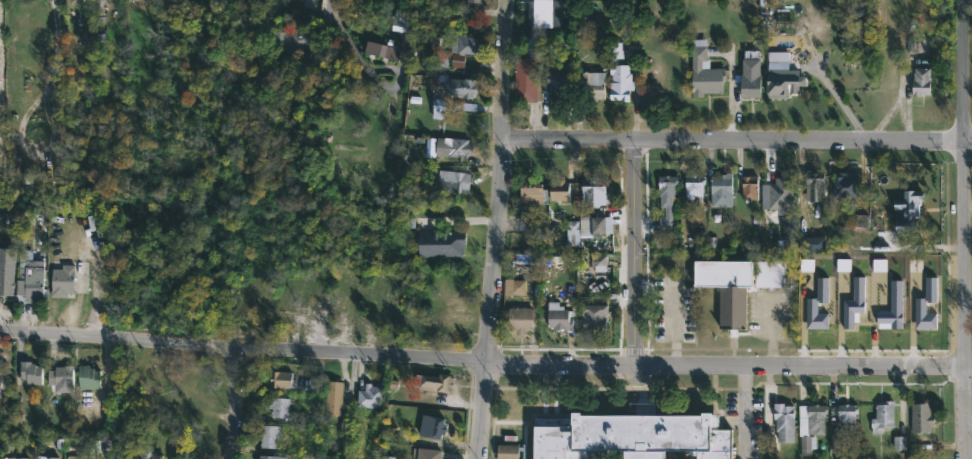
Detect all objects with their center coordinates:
building: (136, 0)
building: (144, 1)
building: (472, 2)
building: (99, 12)
building: (543, 13)
building: (288, 40)
building: (436, 42)
building: (539, 43)
building: (464, 44)
road: (350, 50)
building: (382, 51)
building: (457, 60)
building: (704, 72)
building: (619, 75)
building: (528, 79)
building: (781, 80)
building: (921, 82)
building: (751, 85)
building: (455, 86)
building: (557, 86)
building: (592, 87)
road: (833, 99)
building: (438, 109)
road: (735, 142)
building: (452, 147)
road: (497, 180)
building: (451, 182)
road: (964, 184)
building: (722, 186)
building: (694, 187)
building: (749, 188)
building: (811, 188)
building: (846, 188)
building: (529, 189)
building: (559, 191)
building: (593, 192)
building: (778, 195)
building: (667, 200)
building: (908, 213)
building: (592, 227)
building: (573, 234)
building: (447, 251)
road: (635, 254)
building: (598, 263)
building: (771, 275)
building: (30, 278)
building: (6, 280)
building: (62, 281)
building: (514, 287)
building: (448, 289)
building: (728, 290)
building: (856, 301)
building: (818, 305)
building: (921, 306)
building: (894, 307)
building: (286, 312)
building: (311, 313)
building: (347, 314)
building: (376, 315)
building: (558, 318)
building: (594, 319)
building: (520, 320)
building: (446, 329)
road: (243, 348)
road: (561, 363)
road: (800, 367)
road: (968, 369)
building: (30, 372)
building: (88, 376)
building: (61, 378)
building: (280, 378)
building: (435, 381)
building: (315, 384)
building: (371, 396)
building: (152, 397)
building: (333, 397)
road: (237, 399)
building: (278, 406)
road: (481, 410)
building: (847, 414)
road: (965, 414)
building: (883, 416)
building: (921, 416)
building: (785, 422)
building: (810, 425)
building: (432, 426)
building: (269, 435)
building: (632, 435)
building: (835, 442)
building: (37, 451)
building: (426, 453)
building: (506, 454)
building: (147, 455)
building: (74, 457)
building: (86, 457)
building: (267, 457)
building: (16, 458)

